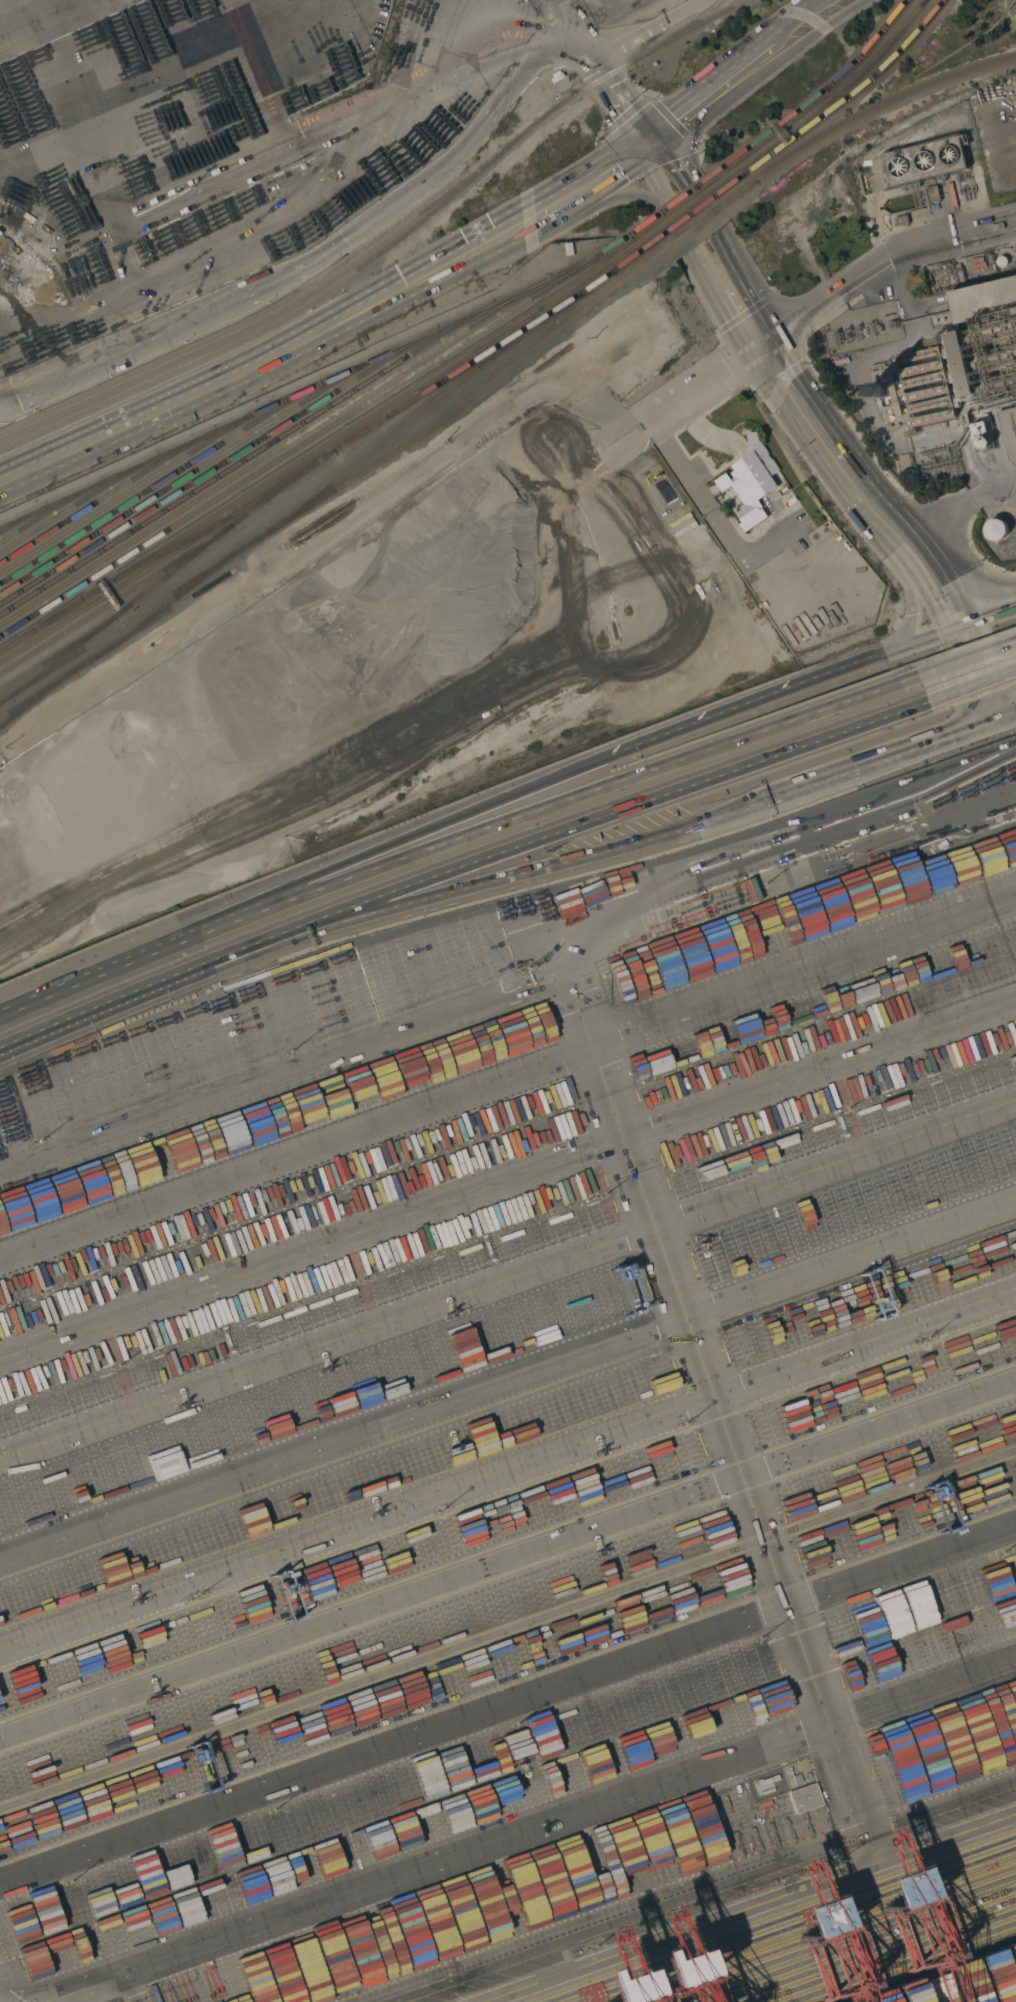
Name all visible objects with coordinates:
road: (566, 28)
road: (649, 29)
railway: (680, 32)
road: (740, 74)
railway: (899, 98)
railway: (817, 99)
railway: (828, 103)
railway: (840, 106)
traffic signals: (645, 149)
building: (925, 161)
railway: (772, 170)
building: (933, 194)
railway: (739, 195)
railway: (739, 197)
railway: (680, 200)
railway: (686, 210)
railway: (690, 217)
railway: (694, 223)
railway: (696, 229)
road: (923, 237)
railway: (388, 248)
railway: (640, 255)
road: (311, 258)
building: (18, 261)
railway: (576, 269)
road: (718, 269)
railway: (609, 276)
railway: (591, 278)
building: (984, 300)
road: (801, 313)
railway: (264, 318)
power substation: (861, 327)
road: (330, 331)
traffic signals: (762, 342)
railway: (486, 355)
railway: (470, 360)
building: (963, 363)
road: (706, 381)
building: (1015, 383)
chimney: (881, 393)
railway: (275, 405)
railway: (416, 418)
building: (979, 428)
railway: (326, 430)
building: (1009, 431)
railway: (367, 432)
building: (983, 443)
railway: (274, 452)
railway: (246, 459)
railway: (218, 467)
railway: (189, 476)
railway: (162, 481)
building: (751, 482)
railway: (260, 487)
railway: (341, 487)
railway: (135, 489)
railway: (272, 492)
railway: (106, 496)
road: (997, 496)
railway: (77, 504)
road: (705, 506)
railway: (49, 512)
road: (862, 514)
railway: (22, 521)
road: (951, 523)
building: (996, 529)
storage tank: (996, 529)
road: (921, 541)
railway: (181, 545)
railway: (160, 582)
road: (919, 588)
railway: (114, 592)
railway: (113, 604)
railway: (165, 608)
railway: (170, 611)
road: (985, 615)
railway: (41, 623)
traffic signals: (955, 627)
road: (878, 644)
road: (966, 658)
railway: (62, 659)
road: (972, 673)
railway: (52, 686)
road: (970, 686)
road: (778, 692)
railway: (36, 698)
road: (1003, 715)
traffic signals: (990, 720)
road: (1006, 751)
road: (871, 764)
road: (574, 799)
road: (580, 823)
road: (417, 842)
road: (779, 843)
road: (800, 871)
road: (495, 881)
road: (116, 972)
road: (119, 1004)
road: (507, 1072)
road: (507, 1177)
road: (508, 1283)
road: (508, 1387)
road: (718, 1401)
road: (507, 1475)
road: (508, 1554)
road: (920, 1697)
road: (508, 1704)
building: (804, 1798)
road: (730, 1900)

